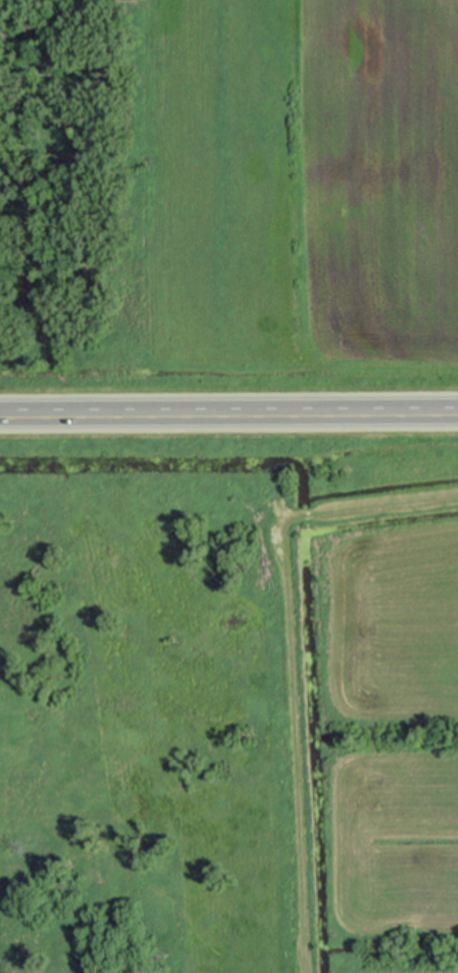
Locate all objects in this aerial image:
road: (229, 419)
building: (302, 516)

